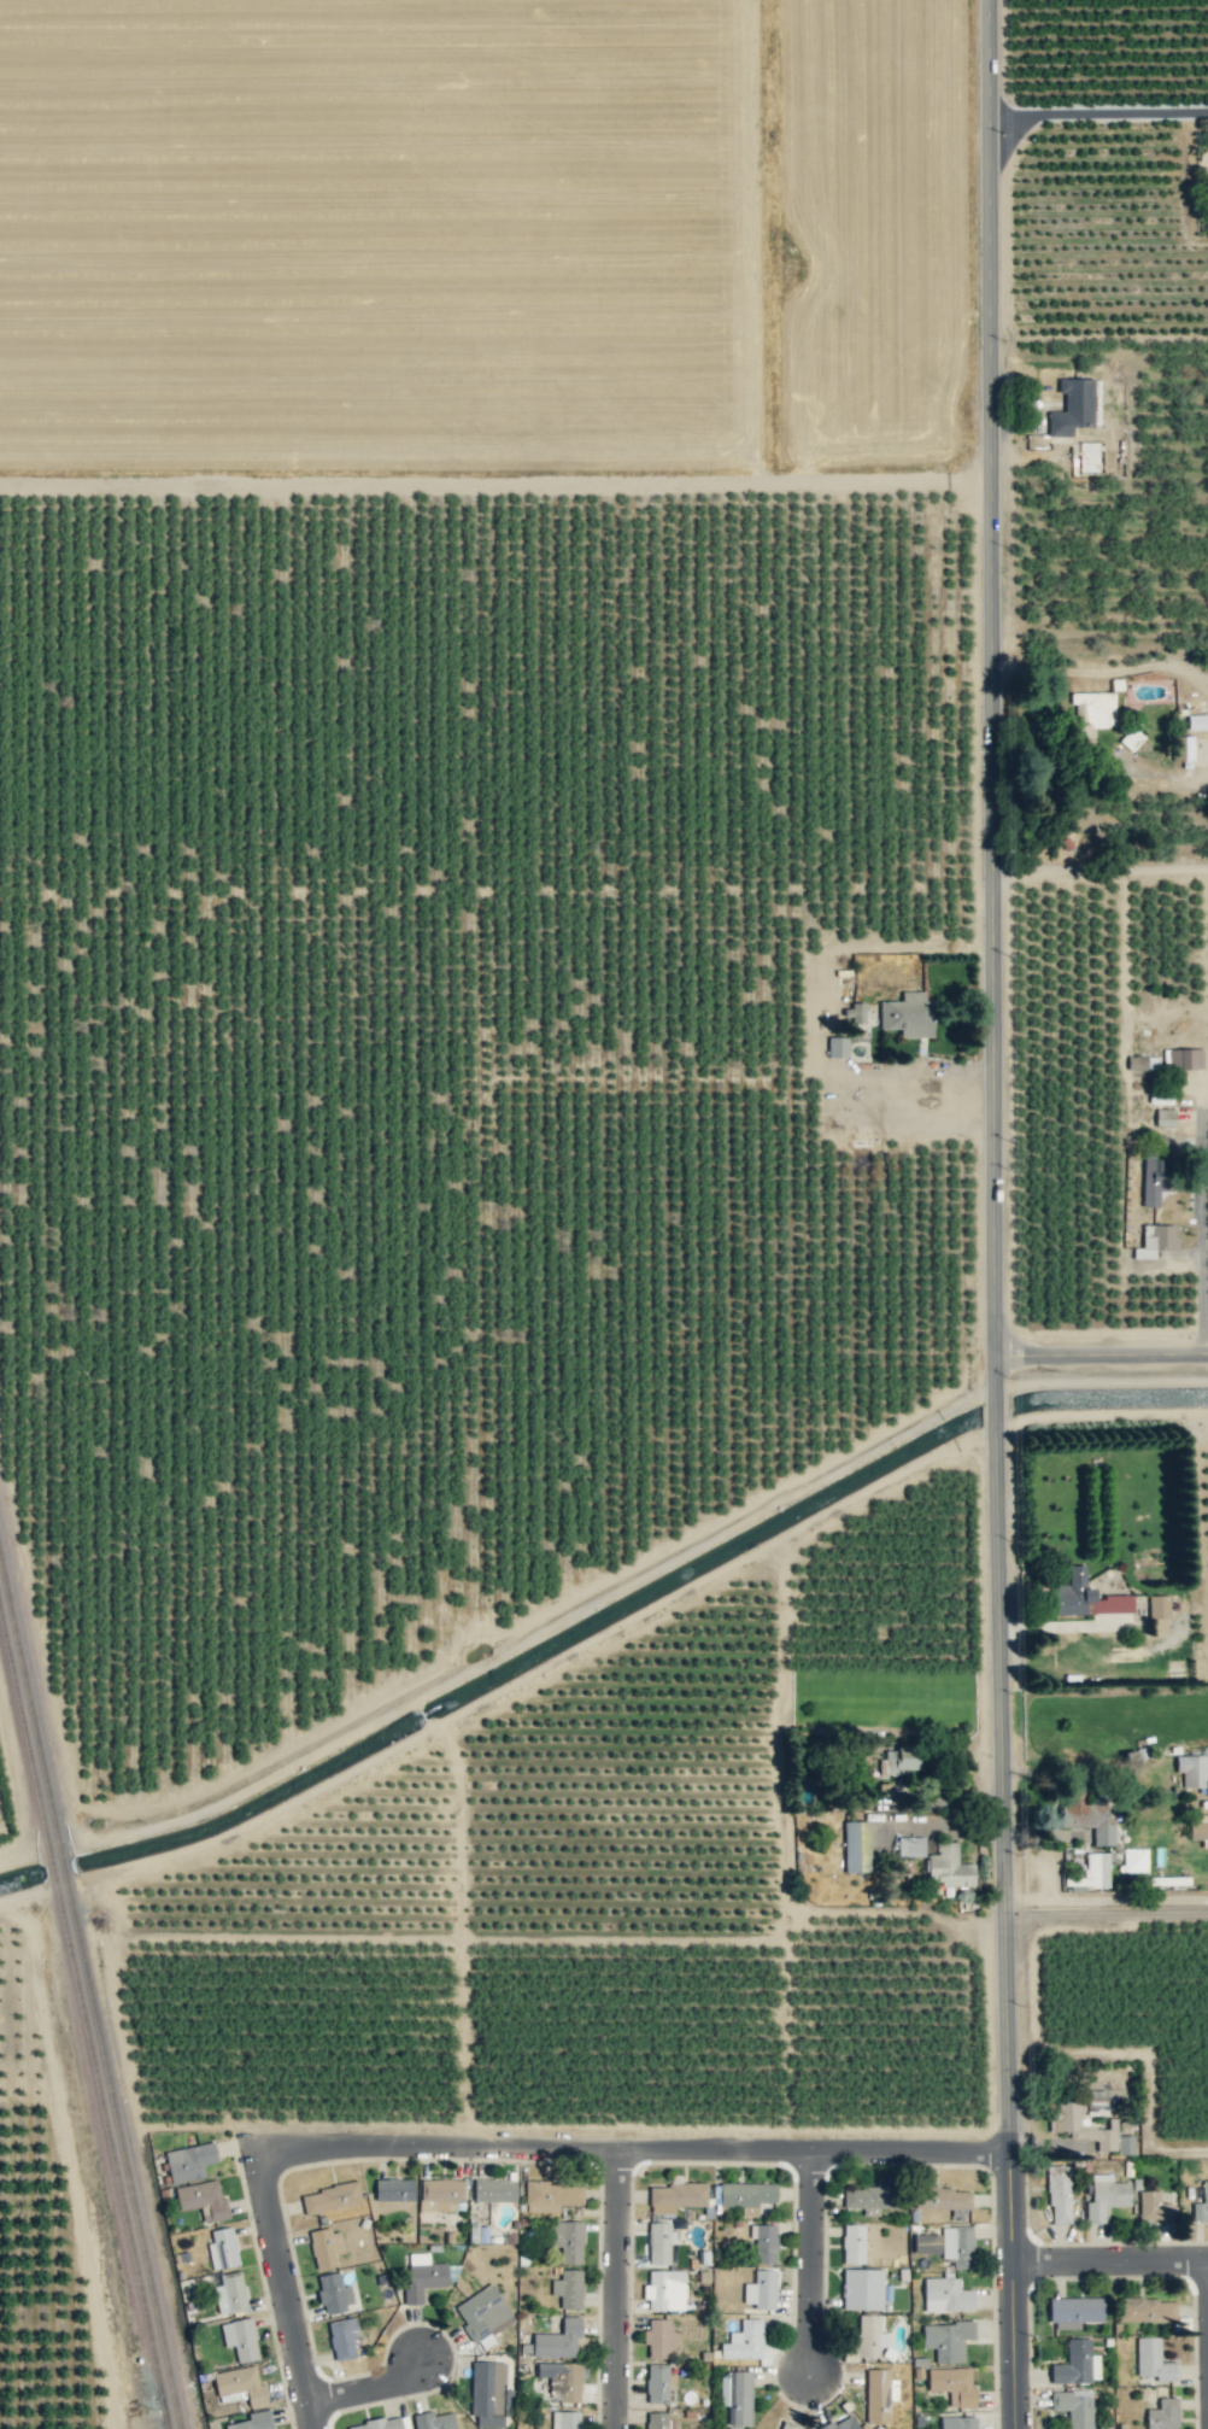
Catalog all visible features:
road: (1098, 112)
building: (1073, 406)
road: (1104, 671)
building: (1197, 721)
road: (1206, 782)
road: (1099, 867)
building: (908, 1014)
building: (837, 1047)
building: (1184, 1059)
building: (1140, 1063)
road: (872, 1091)
building: (1165, 1117)
building: (1155, 1178)
road: (996, 1214)
road: (1203, 1219)
building: (1155, 1240)
road: (1102, 1354)
building: (1083, 1596)
building: (1159, 1615)
railway: (30, 1704)
railway: (24, 1733)
building: (899, 1760)
building: (1192, 1770)
building: (1198, 1827)
building: (856, 1846)
building: (1134, 1860)
railway: (63, 1865)
railway: (52, 1867)
road: (1106, 1912)
building: (1071, 2121)
road: (633, 2146)
railway: (111, 2154)
railway: (123, 2154)
building: (189, 2161)
building: (394, 2189)
building: (494, 2190)
building: (440, 2194)
building: (1059, 2194)
building: (551, 2195)
building: (746, 2195)
building: (675, 2196)
building: (869, 2196)
building: (1104, 2196)
building: (1204, 2196)
building: (330, 2197)
building: (942, 2197)
building: (203, 2200)
building: (1153, 2206)
building: (568, 2240)
building: (659, 2242)
building: (763, 2243)
building: (852, 2243)
building: (957, 2244)
building: (326, 2247)
building: (222, 2248)
road: (816, 2257)
road: (1110, 2258)
building: (422, 2277)
road: (286, 2285)
road: (620, 2287)
building: (568, 2288)
building: (862, 2288)
building: (761, 2289)
building: (664, 2290)
building: (230, 2293)
building: (333, 2293)
building: (945, 2295)
building: (1147, 2310)
building: (1074, 2311)
building: (483, 2313)
building: (869, 2336)
building: (344, 2337)
building: (658, 2337)
building: (240, 2339)
building: (558, 2340)
building: (946, 2340)
building: (744, 2341)
building: (1153, 2360)
building: (1077, 2364)
building: (562, 2378)
building: (658, 2383)
building: (240, 2384)
road: (369, 2384)
building: (952, 2384)
building: (489, 2394)
building: (879, 2395)
building: (735, 2396)
building: (1073, 2407)
building: (1162, 2415)
building: (565, 2419)
building: (658, 2419)
railway: (165, 2421)
building: (253, 2421)
building: (434, 2421)
building: (957, 2422)
building: (382, 2423)
building: (843, 2423)
building: (788, 2425)
building: (753, 2428)

